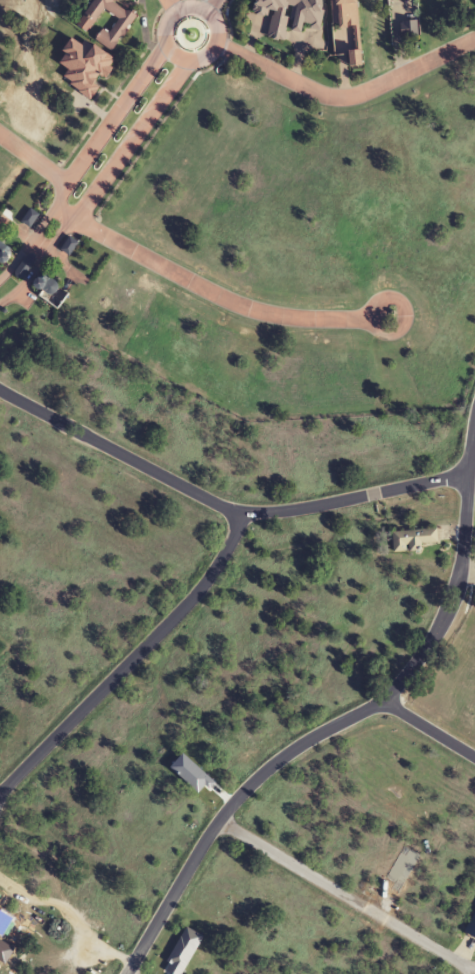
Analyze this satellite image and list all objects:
road: (196, 3)
road: (170, 4)
road: (213, 5)
building: (289, 15)
building: (117, 28)
building: (346, 28)
building: (408, 28)
road: (348, 96)
road: (113, 115)
road: (33, 159)
road: (109, 169)
road: (63, 213)
road: (41, 221)
road: (40, 245)
building: (2, 248)
road: (8, 269)
building: (47, 284)
road: (19, 292)
road: (224, 298)
road: (223, 506)
building: (414, 540)
road: (130, 660)
road: (345, 719)
road: (427, 730)
road: (347, 896)
building: (471, 927)

